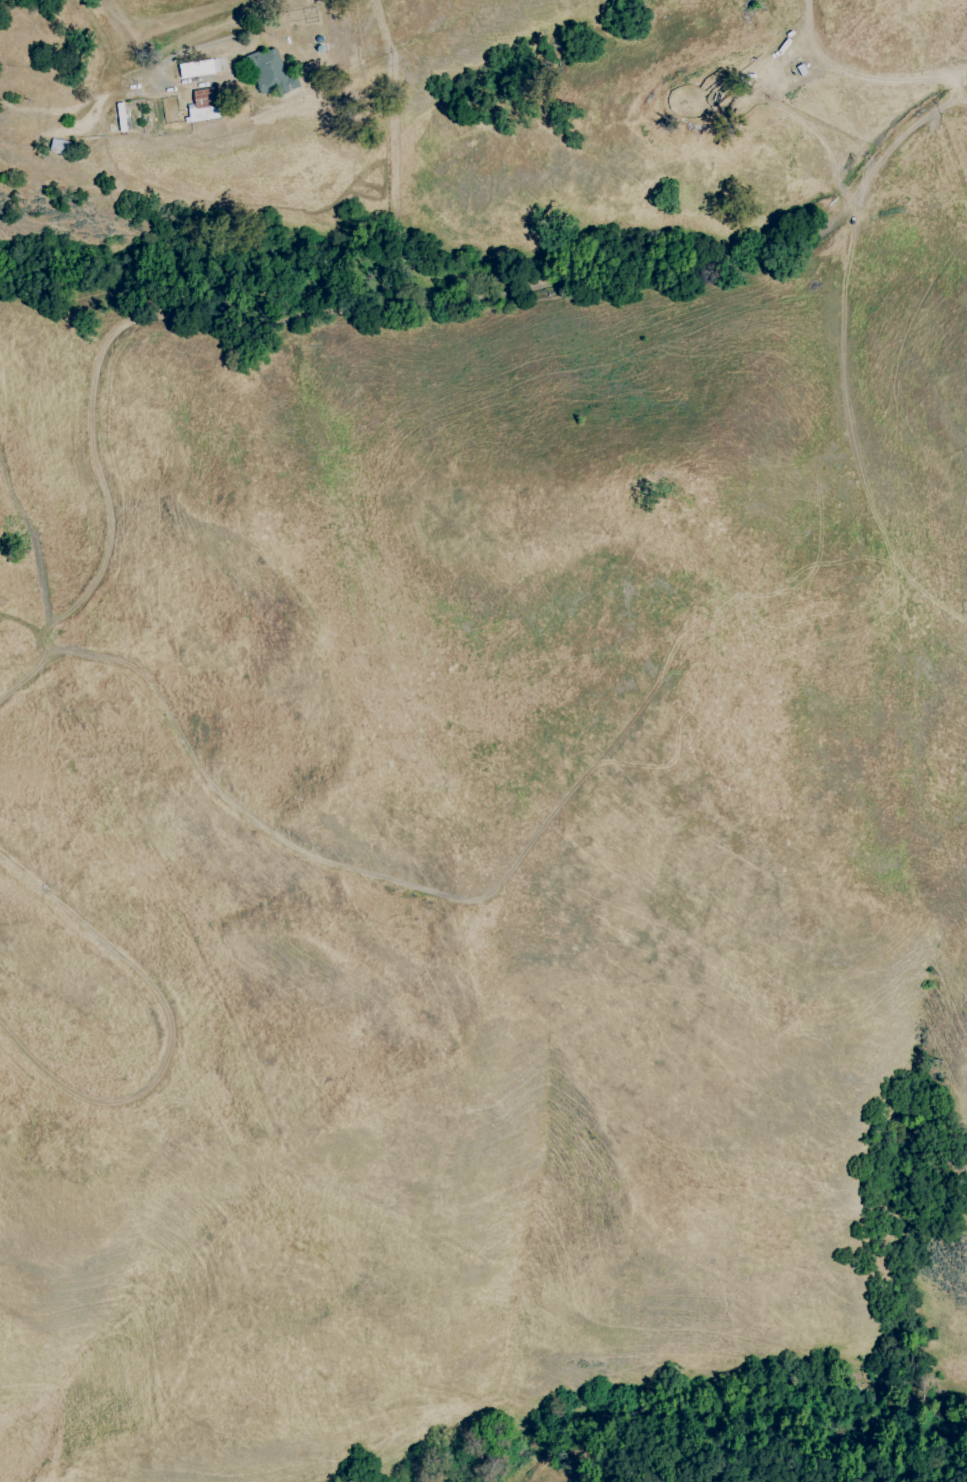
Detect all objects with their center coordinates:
building: (202, 67)
road: (849, 71)
building: (270, 72)

